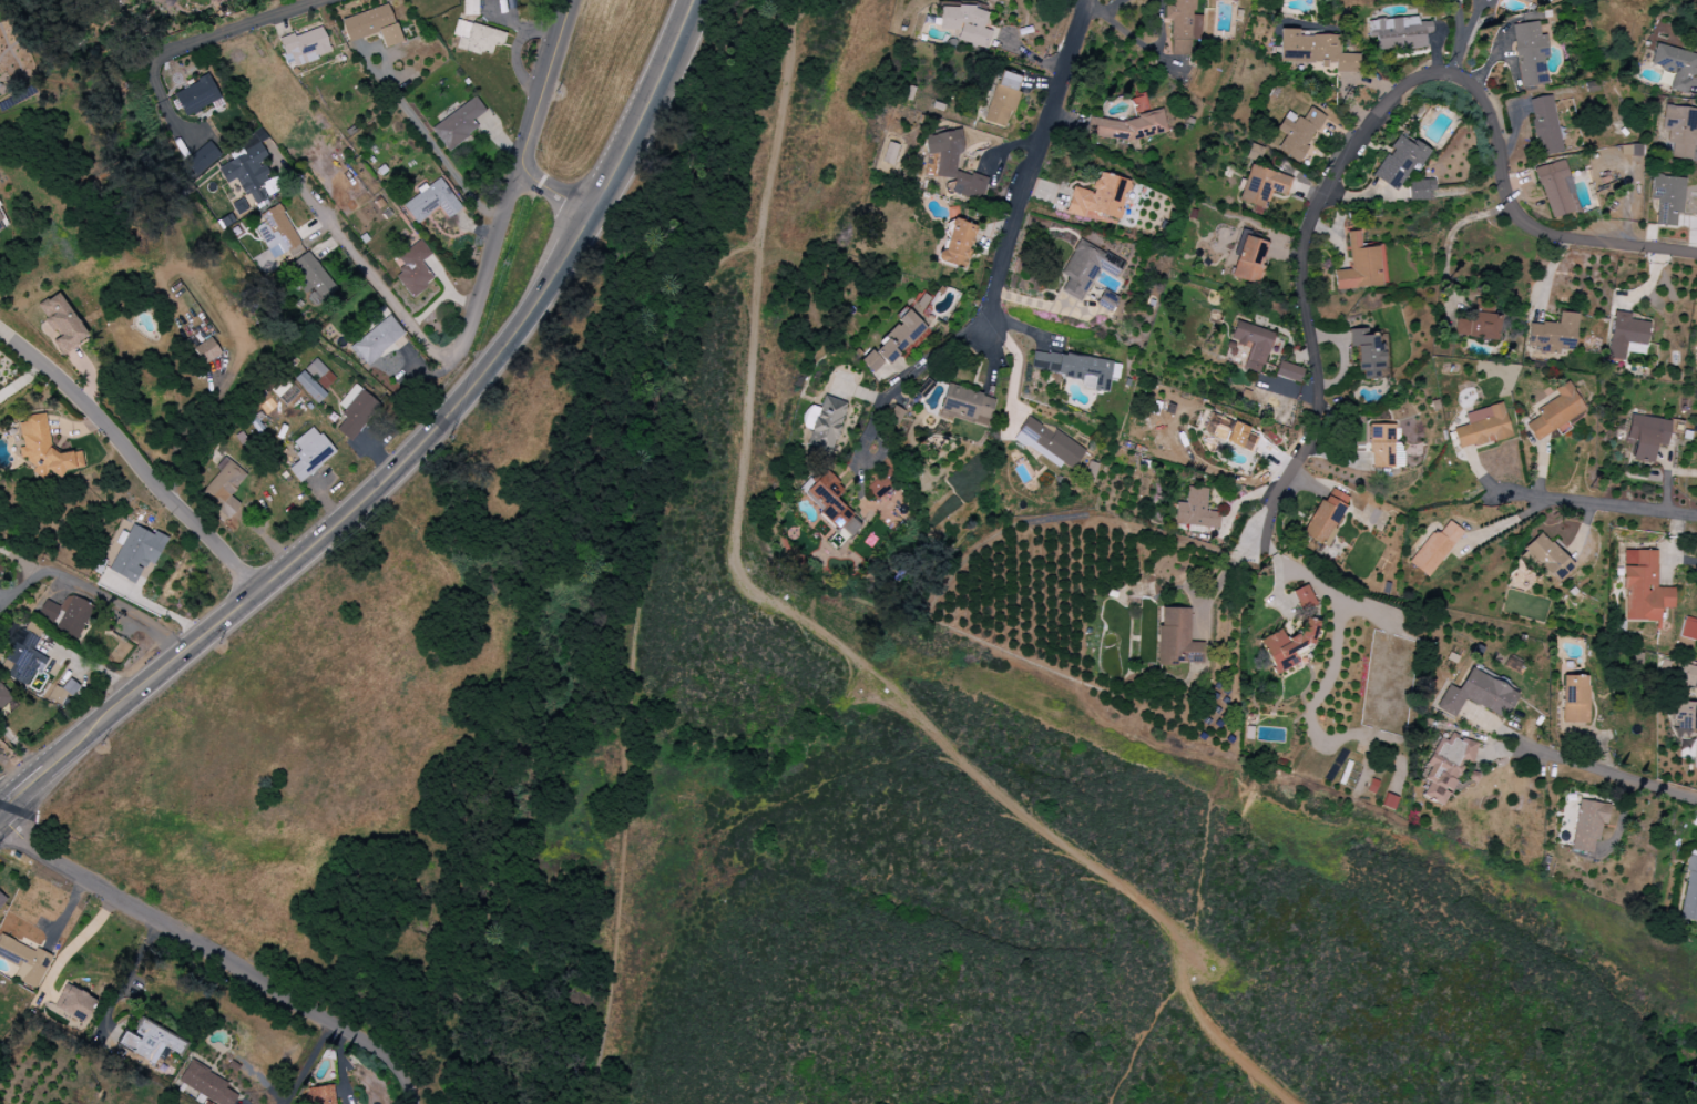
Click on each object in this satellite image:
building: (1526, 0)
building: (470, 7)
building: (965, 24)
building: (372, 25)
building: (1183, 25)
building: (1398, 33)
road: (214, 34)
building: (477, 38)
road: (1459, 38)
building: (304, 47)
building: (1313, 51)
building: (1530, 53)
building: (1675, 65)
building: (196, 95)
building: (1002, 99)
road: (1369, 119)
building: (1129, 123)
building: (458, 124)
building: (1544, 125)
building: (1678, 131)
building: (1297, 132)
road: (429, 140)
road: (1008, 145)
building: (1630, 150)
building: (202, 157)
building: (1399, 162)
building: (953, 164)
building: (247, 166)
building: (1261, 186)
road: (512, 188)
building: (1419, 188)
building: (1556, 188)
road: (553, 195)
building: (1098, 197)
building: (1667, 198)
building: (431, 202)
building: (1, 224)
building: (278, 229)
building: (957, 244)
road: (1004, 252)
building: (289, 254)
building: (1247, 259)
road: (365, 266)
building: (1360, 266)
building: (413, 268)
building: (1085, 268)
building: (311, 278)
building: (61, 324)
building: (1478, 326)
road: (518, 328)
building: (1552, 334)
building: (1624, 335)
building: (378, 343)
building: (1251, 345)
building: (893, 346)
building: (206, 350)
building: (1366, 354)
road: (1016, 367)
building: (1076, 369)
building: (1288, 371)
building: (319, 374)
building: (309, 387)
building: (965, 405)
building: (355, 411)
building: (1555, 412)
building: (894, 413)
building: (826, 425)
building: (1481, 427)
building: (1229, 432)
building: (1645, 436)
building: (1047, 443)
building: (43, 448)
building: (1383, 448)
building: (309, 454)
road: (132, 458)
building: (224, 489)
building: (830, 503)
road: (1592, 503)
building: (1195, 510)
building: (1325, 518)
building: (1434, 549)
building: (136, 553)
building: (1546, 558)
road: (1683, 560)
road: (1221, 574)
building: (1643, 587)
road: (92, 594)
building: (1304, 597)
building: (65, 614)
building: (1688, 628)
road: (818, 634)
building: (1174, 636)
building: (1287, 646)
building: (25, 656)
building: (1689, 676)
road: (147, 678)
building: (62, 693)
building: (1476, 695)
building: (2, 699)
building: (1574, 699)
building: (1686, 716)
road: (1560, 760)
building: (1444, 766)
road: (14, 769)
road: (21, 788)
building: (1389, 801)
building: (1587, 826)
building: (1689, 893)
building: (2, 900)
road: (74, 945)
road: (218, 959)
building: (24, 961)
road: (126, 979)
building: (76, 1004)
building: (149, 1042)
road: (306, 1063)
building: (206, 1084)
building: (321, 1095)

